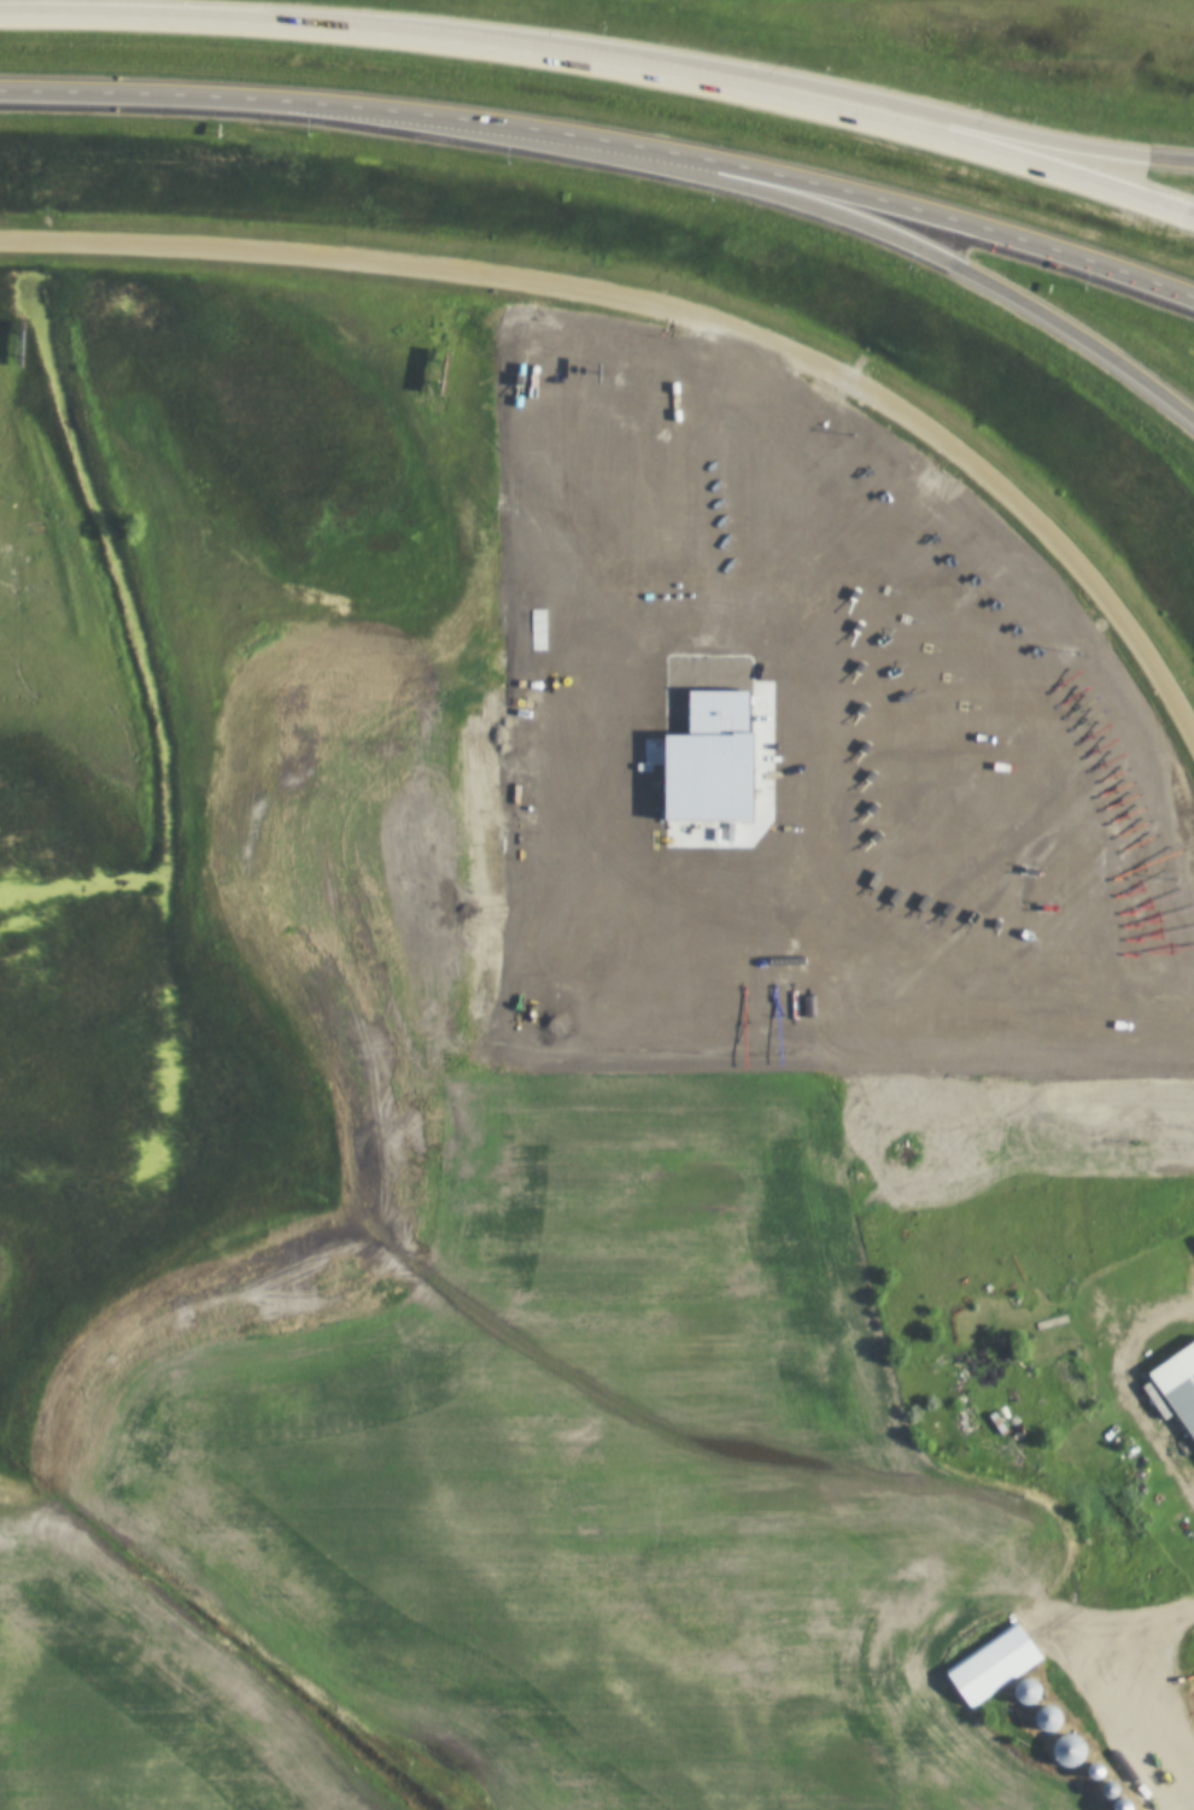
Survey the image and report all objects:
street lamp: (607, 19)
street lamp: (831, 54)
road: (607, 55)
street lamp: (1036, 107)
street lamp: (311, 127)
road: (607, 140)
road: (1079, 148)
street lamp: (509, 154)
street lamp: (715, 192)
street lamp: (912, 262)
street lamp: (1088, 285)
road: (1011, 295)
road: (679, 315)
building: (1066, 1381)
road: (1129, 1387)
building: (1176, 1388)
building: (1100, 1422)
storage tank: (1100, 1422)
building: (991, 1667)
building: (1025, 1694)
silo: (1025, 1694)
building: (1046, 1721)
silo: (1046, 1721)
building: (1066, 1753)
silo: (1066, 1753)
building: (1090, 1773)
silo: (1090, 1773)
building: (1105, 1791)
silo: (1105, 1791)
building: (1117, 1805)
silo: (1117, 1805)

